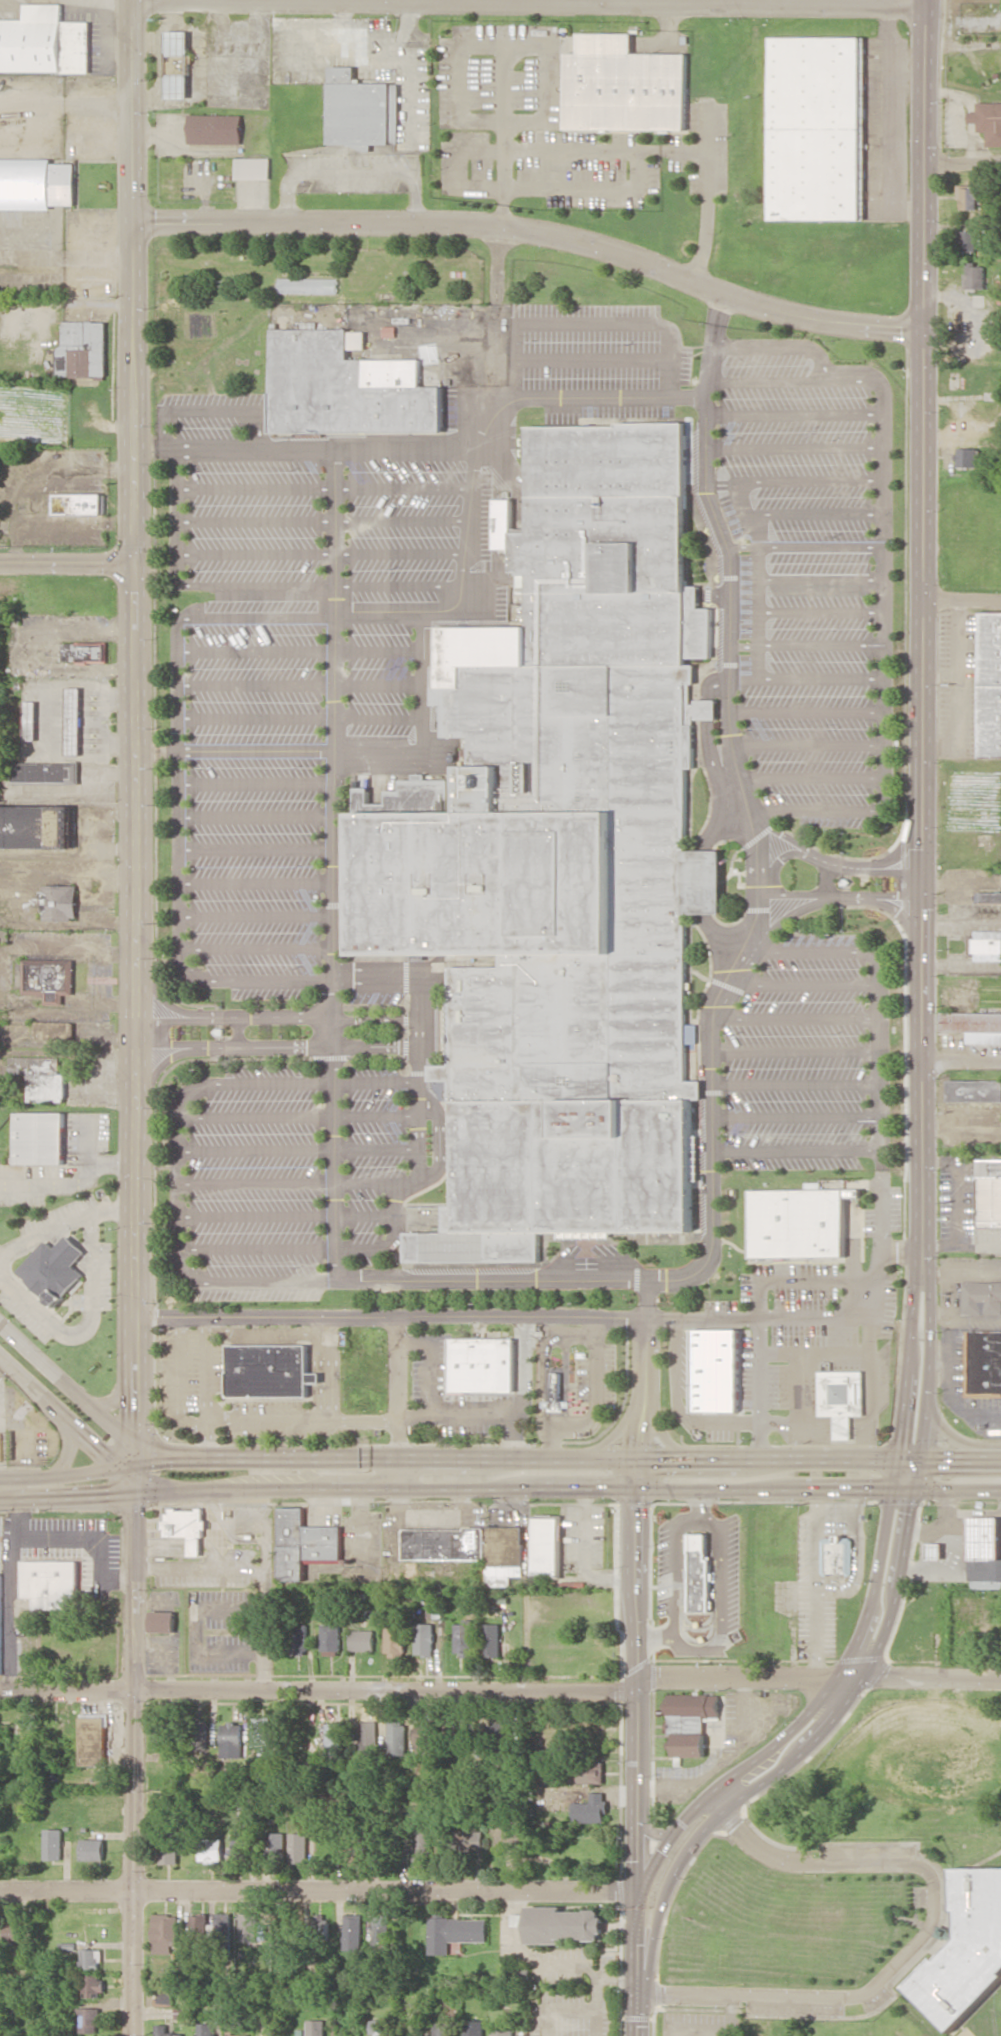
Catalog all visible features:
road: (527, 2)
building: (45, 41)
building: (177, 64)
building: (623, 85)
building: (361, 109)
road: (131, 111)
building: (987, 121)
building: (817, 127)
building: (215, 128)
road: (961, 162)
road: (922, 164)
building: (252, 167)
building: (36, 183)
building: (970, 196)
road: (533, 234)
building: (968, 240)
building: (974, 275)
building: (308, 285)
road: (590, 320)
road: (778, 344)
building: (83, 349)
road: (594, 358)
building: (349, 386)
road: (134, 392)
road: (883, 398)
road: (210, 410)
road: (809, 444)
road: (404, 447)
building: (968, 457)
parking lot: (480, 458)
road: (810, 478)
road: (403, 485)
road: (235, 487)
building: (77, 503)
road: (747, 511)
road: (815, 512)
road: (239, 520)
road: (401, 520)
road: (742, 545)
road: (819, 545)
road: (239, 552)
road: (399, 552)
road: (67, 561)
parking lot: (812, 576)
road: (819, 577)
road: (882, 577)
road: (730, 579)
road: (398, 582)
road: (240, 583)
road: (962, 603)
road: (757, 610)
road: (820, 611)
road: (744, 645)
road: (820, 645)
road: (255, 648)
road: (380, 648)
building: (86, 652)
road: (174, 662)
road: (819, 677)
road: (381, 682)
road: (255, 683)
building: (990, 685)
road: (805, 711)
road: (255, 714)
road: (381, 714)
building: (31, 720)
building: (75, 720)
road: (426, 723)
road: (807, 744)
road: (255, 749)
parking lot: (820, 757)
road: (882, 758)
road: (336, 763)
building: (47, 772)
road: (811, 776)
road: (255, 783)
road: (815, 808)
road: (255, 816)
building: (36, 826)
road: (255, 849)
building: (566, 850)
road: (840, 863)
road: (255, 882)
road: (757, 883)
road: (839, 897)
building: (989, 897)
building: (60, 901)
road: (920, 909)
road: (256, 913)
building: (986, 944)
parking lot: (296, 945)
road: (256, 948)
road: (810, 951)
building: (49, 979)
road: (801, 984)
road: (136, 1002)
road: (280, 1015)
road: (795, 1018)
building: (974, 1025)
building: (57, 1030)
road: (278, 1046)
road: (795, 1051)
road: (877, 1051)
parking lot: (807, 1057)
road: (960, 1064)
building: (41, 1077)
road: (292, 1083)
road: (795, 1083)
building: (974, 1090)
road: (301, 1115)
road: (795, 1116)
building: (40, 1137)
road: (442, 1139)
road: (300, 1150)
road: (795, 1150)
building: (696, 1171)
road: (180, 1182)
road: (292, 1182)
road: (70, 1183)
building: (988, 1192)
road: (715, 1197)
road: (287, 1214)
building: (798, 1223)
road: (324, 1247)
building: (55, 1269)
road: (494, 1280)
road: (250, 1281)
building: (981, 1297)
road: (393, 1315)
building: (983, 1362)
building: (483, 1365)
building: (270, 1370)
building: (717, 1371)
road: (67, 1384)
road: (27, 1385)
building: (558, 1390)
road: (118, 1397)
building: (840, 1397)
traffic signals: (136, 1409)
road: (616, 1434)
road: (89, 1438)
road: (668, 1438)
traffic signals: (912, 1439)
traffic signals: (640, 1441)
traffic signals: (102, 1448)
road: (69, 1452)
road: (136, 1453)
road: (163, 1454)
traffic signals: (175, 1457)
road: (597, 1457)
traffic signals: (663, 1457)
traffic signals: (941, 1459)
road: (164, 1460)
traffic signals: (166, 1460)
road: (130, 1465)
road: (136, 1469)
road: (130, 1470)
road: (62, 1475)
road: (136, 1484)
road: (155, 1484)
road: (568, 1489)
traffic signals: (610, 1489)
traffic signals: (870, 1489)
traffic signals: (108, 1495)
road: (67, 1497)
traffic signals: (638, 1507)
traffic signals: (136, 1509)
traffic signals: (901, 1510)
building: (186, 1526)
building: (984, 1537)
building: (303, 1543)
building: (446, 1543)
building: (547, 1545)
building: (935, 1551)
building: (506, 1554)
building: (837, 1554)
building: (984, 1572)
building: (701, 1573)
building: (51, 1583)
building: (1, 1619)
building: (163, 1621)
building: (466, 1637)
building: (301, 1638)
building: (332, 1638)
building: (397, 1639)
building: (426, 1639)
building: (494, 1639)
building: (364, 1640)
road: (854, 1667)
road: (635, 1673)
road: (502, 1691)
building: (262, 1732)
building: (165, 1734)
building: (198, 1735)
building: (427, 1737)
building: (398, 1738)
building: (232, 1739)
building: (93, 1740)
building: (335, 1740)
building: (367, 1740)
road: (134, 1765)
building: (590, 1771)
building: (592, 1809)
road: (651, 1833)
road: (672, 1835)
building: (55, 1843)
building: (423, 1845)
building: (276, 1846)
building: (299, 1847)
building: (94, 1849)
building: (170, 1849)
building: (212, 1849)
traffic signals: (661, 1852)
traffic signals: (635, 1854)
road: (814, 1861)
road: (318, 1888)
traffic signals: (616, 1890)
road: (665, 1890)
building: (225, 1923)
building: (322, 1923)
building: (561, 1924)
building: (200, 1926)
building: (250, 1927)
building: (14, 1930)
building: (353, 1931)
building: (455, 1932)
building: (166, 1933)
building: (381, 1934)
road: (636, 1943)
traffic signals: (637, 1944)
building: (966, 1949)
building: (92, 1958)
building: (94, 1984)
building: (167, 1997)
road: (828, 1998)
road: (637, 2016)
building: (90, 2019)
building: (316, 2027)
building: (475, 2028)
building: (207, 2029)
building: (444, 2029)
building: (166, 2031)
building: (503, 2031)
building: (238, 2033)

